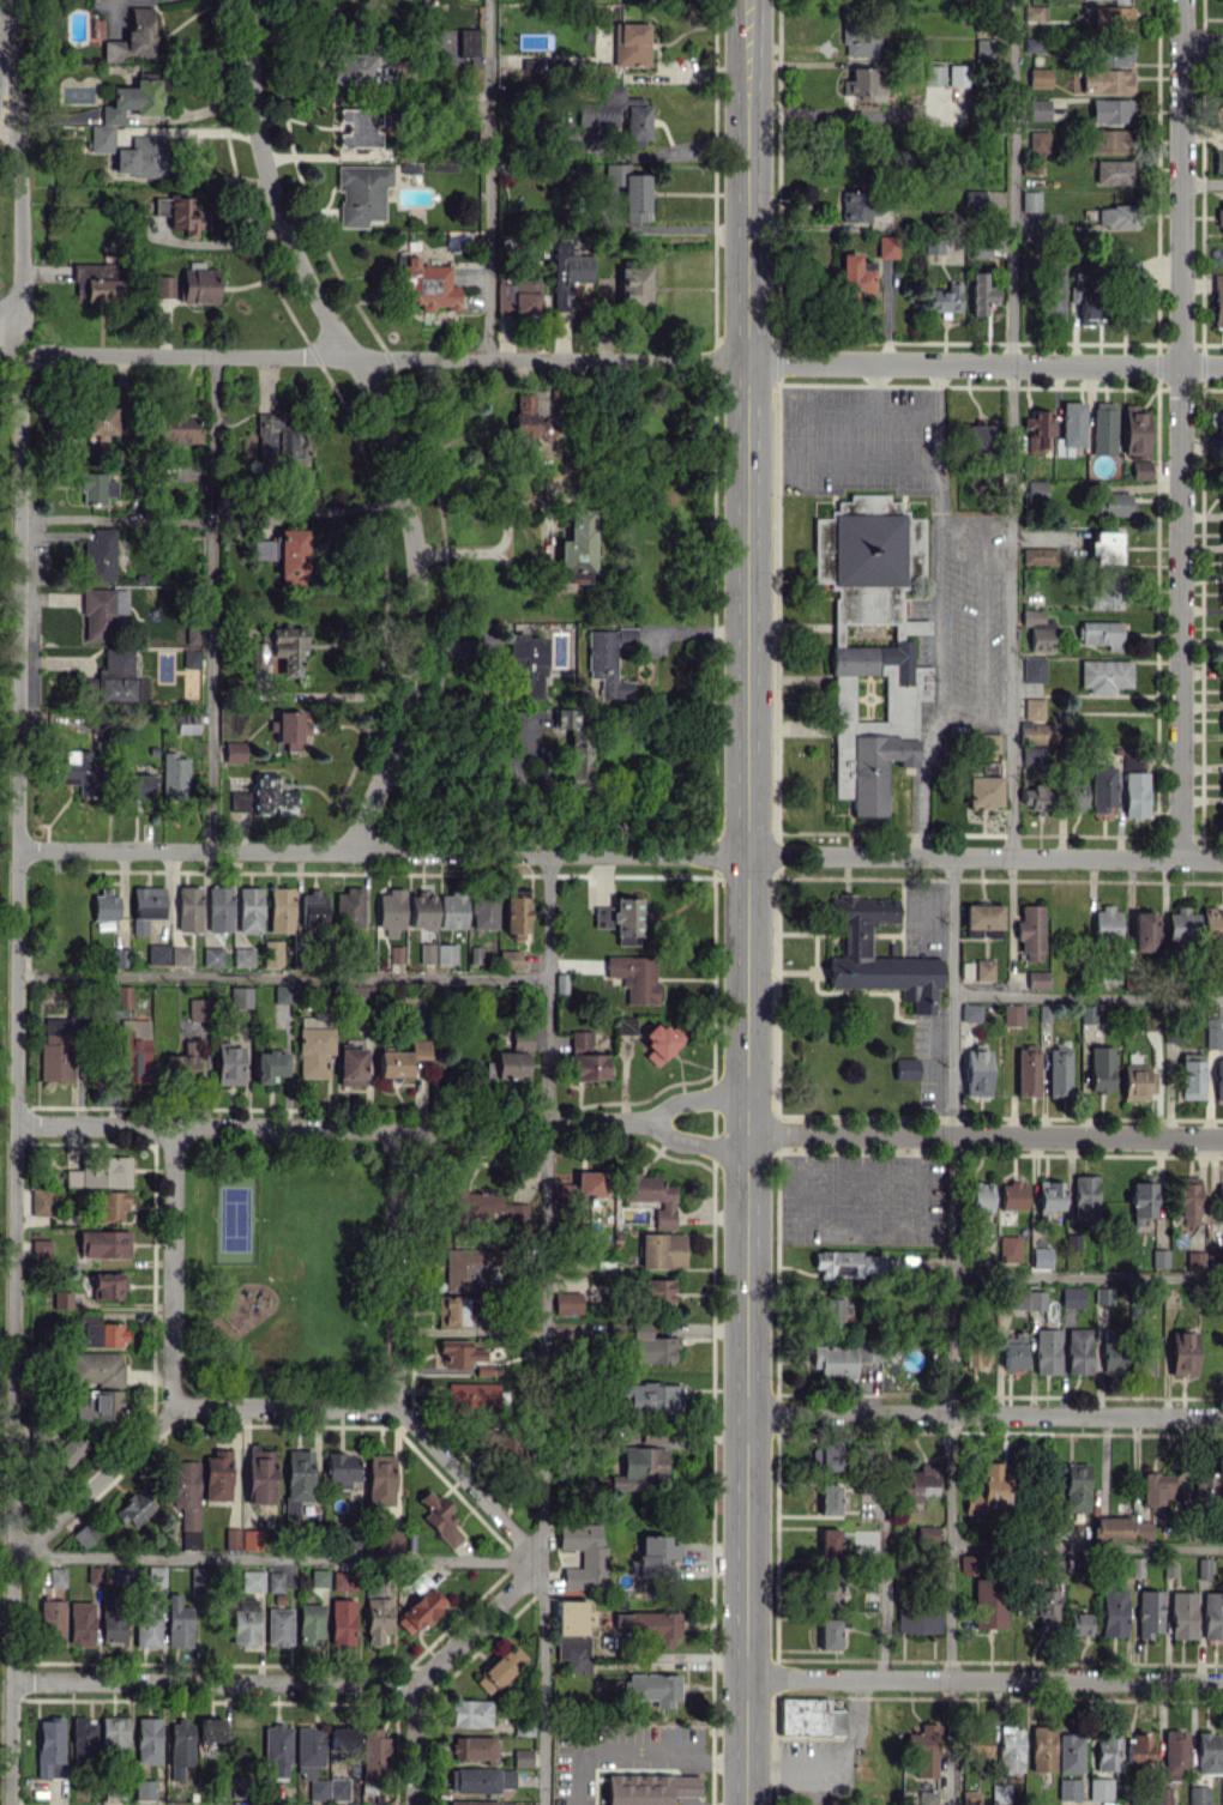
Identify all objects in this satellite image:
building: (1219, 0)
building: (1119, 1)
building: (1035, 12)
building: (1111, 17)
building: (131, 37)
building: (860, 37)
building: (531, 41)
building: (468, 42)
road: (1203, 42)
road: (4, 44)
building: (631, 44)
building: (1035, 44)
building: (984, 48)
building: (1115, 53)
building: (354, 68)
building: (934, 74)
building: (958, 74)
building: (1038, 77)
building: (1105, 80)
building: (862, 85)
road: (1, 92)
building: (1034, 108)
building: (1110, 109)
building: (110, 115)
building: (635, 121)
building: (359, 127)
building: (1038, 140)
building: (1109, 140)
building: (141, 156)
building: (1218, 161)
building: (1113, 171)
road: (488, 180)
road: (1203, 182)
building: (361, 193)
building: (634, 197)
building: (984, 198)
building: (1030, 200)
road: (17, 205)
building: (855, 205)
building: (179, 213)
building: (1110, 216)
building: (1219, 216)
road: (681, 225)
road: (211, 241)
building: (934, 245)
building: (887, 246)
building: (981, 248)
building: (567, 272)
building: (855, 273)
building: (97, 280)
building: (428, 284)
building: (163, 285)
building: (199, 285)
building: (633, 285)
building: (981, 294)
building: (517, 296)
building: (945, 297)
building: (1052, 297)
building: (1218, 300)
building: (1085, 304)
building: (1137, 304)
road: (386, 358)
road: (984, 363)
building: (524, 413)
road: (838, 415)
road: (908, 415)
road: (381, 418)
building: (100, 419)
building: (1216, 421)
building: (179, 425)
road: (1012, 428)
building: (1071, 428)
building: (1103, 428)
road: (1180, 428)
building: (1038, 429)
building: (1134, 431)
building: (978, 437)
building: (1213, 446)
road: (842, 460)
building: (1140, 469)
building: (95, 485)
building: (1036, 489)
building: (1222, 501)
building: (1114, 503)
road: (337, 507)
road: (957, 517)
road: (995, 518)
road: (115, 521)
building: (1222, 532)
building: (1104, 545)
building: (576, 547)
building: (284, 554)
building: (100, 555)
building: (1040, 556)
building: (1222, 563)
building: (1105, 590)
building: (1222, 594)
road: (210, 602)
road: (18, 603)
road: (934, 610)
building: (98, 614)
road: (980, 621)
building: (1037, 623)
building: (192, 633)
building: (1100, 633)
building: (870, 641)
building: (288, 647)
building: (191, 657)
building: (118, 660)
building: (608, 660)
building: (529, 666)
building: (1034, 669)
building: (1104, 675)
building: (108, 687)
building: (1222, 690)
building: (1034, 708)
building: (1222, 722)
building: (187, 723)
road: (959, 726)
building: (288, 729)
building: (1037, 732)
building: (988, 742)
building: (234, 750)
building: (577, 753)
building: (989, 768)
building: (79, 772)
building: (174, 775)
building: (138, 784)
building: (1222, 784)
building: (1102, 789)
building: (982, 790)
building: (1135, 793)
building: (1076, 795)
building: (269, 796)
building: (1037, 797)
building: (240, 801)
road: (620, 852)
road: (748, 902)
building: (104, 904)
building: (145, 906)
building: (313, 907)
building: (349, 907)
building: (188, 908)
building: (219, 908)
building: (249, 908)
building: (281, 908)
building: (452, 908)
building: (421, 910)
road: (17, 911)
building: (483, 912)
building: (514, 914)
road: (1008, 916)
building: (620, 919)
building: (982, 919)
building: (1211, 919)
building: (1105, 922)
building: (1181, 924)
building: (1143, 930)
building: (1030, 931)
building: (854, 940)
building: (272, 953)
building: (426, 953)
building: (446, 953)
building: (157, 954)
building: (181, 955)
building: (212, 956)
building: (242, 956)
building: (510, 959)
building: (968, 968)
building: (983, 970)
road: (283, 976)
building: (634, 976)
building: (1037, 979)
building: (284, 992)
building: (122, 996)
building: (240, 996)
road: (1088, 996)
building: (198, 1008)
building: (970, 1012)
building: (1042, 1012)
building: (1088, 1013)
building: (1012, 1014)
building: (1151, 1020)
building: (625, 1025)
building: (1212, 1032)
building: (520, 1039)
building: (580, 1039)
building: (658, 1042)
building: (314, 1045)
road: (17, 1049)
building: (55, 1049)
building: (134, 1050)
building: (402, 1058)
building: (183, 1060)
building: (228, 1062)
building: (507, 1064)
building: (269, 1066)
building: (351, 1066)
building: (589, 1066)
building: (905, 1068)
building: (1101, 1068)
building: (1026, 1070)
building: (1058, 1070)
building: (976, 1073)
building: (1191, 1075)
building: (1218, 1079)
building: (1137, 1080)
road: (699, 1098)
road: (339, 1127)
road: (984, 1135)
road: (699, 1141)
building: (100, 1172)
building: (590, 1183)
building: (651, 1195)
building: (1011, 1195)
building: (1049, 1196)
building: (1085, 1197)
building: (1219, 1199)
building: (1141, 1200)
building: (41, 1201)
building: (980, 1202)
building: (1186, 1202)
building: (112, 1206)
park: (236, 1218)
building: (103, 1243)
building: (41, 1248)
building: (662, 1249)
building: (1008, 1249)
building: (1215, 1255)
building: (1040, 1257)
building: (1159, 1257)
building: (1194, 1260)
building: (847, 1263)
building: (905, 1263)
road: (175, 1264)
park: (283, 1266)
road: (394, 1267)
building: (468, 1267)
road: (1086, 1278)
building: (107, 1286)
building: (655, 1291)
building: (1102, 1294)
building: (1072, 1297)
building: (1024, 1298)
building: (61, 1299)
building: (567, 1302)
building: (831, 1310)
building: (451, 1311)
building: (526, 1326)
road: (546, 1328)
road: (951, 1330)
building: (103, 1334)
road: (16, 1339)
building: (649, 1346)
building: (1078, 1350)
building: (1113, 1350)
building: (1013, 1351)
building: (1046, 1351)
building: (459, 1353)
building: (1182, 1353)
building: (976, 1356)
building: (1145, 1357)
building: (833, 1360)
building: (97, 1369)
building: (482, 1369)
building: (471, 1395)
building: (653, 1396)
building: (98, 1405)
road: (284, 1405)
road: (984, 1413)
building: (67, 1450)
building: (826, 1451)
building: (341, 1467)
building: (641, 1467)
building: (260, 1474)
building: (216, 1475)
building: (380, 1478)
road: (95, 1479)
building: (297, 1479)
road: (469, 1483)
building: (916, 1484)
building: (1076, 1486)
building: (1155, 1487)
building: (1203, 1487)
building: (987, 1489)
building: (185, 1498)
building: (829, 1498)
building: (134, 1508)
building: (439, 1517)
building: (1111, 1528)
building: (1141, 1529)
building: (926, 1534)
building: (231, 1538)
building: (251, 1539)
building: (390, 1540)
building: (830, 1544)
road: (885, 1545)
road: (1086, 1549)
building: (583, 1555)
building: (656, 1556)
road: (279, 1557)
building: (905, 1562)
building: (1135, 1566)
building: (1052, 1568)
building: (1203, 1568)
building: (94, 1574)
building: (121, 1574)
building: (155, 1575)
building: (56, 1576)
building: (198, 1576)
building: (318, 1577)
building: (252, 1580)
building: (343, 1580)
building: (275, 1581)
building: (418, 1582)
building: (827, 1588)
building: (988, 1602)
building: (1046, 1607)
building: (420, 1610)
building: (1111, 1612)
building: (1149, 1612)
building: (1182, 1614)
building: (1212, 1614)
road: (12, 1617)
building: (572, 1617)
building: (918, 1617)
building: (376, 1619)
building: (112, 1620)
building: (146, 1620)
building: (52, 1622)
building: (177, 1622)
building: (245, 1622)
building: (342, 1622)
road: (481, 1622)
building: (80, 1623)
building: (309, 1623)
building: (1078, 1623)
building: (651, 1625)
building: (278, 1626)
building: (829, 1634)
building: (573, 1653)
building: (499, 1668)
road: (984, 1679)
road: (213, 1682)
building: (652, 1688)
building: (470, 1713)
building: (809, 1718)
building: (210, 1728)
building: (114, 1734)
building: (83, 1735)
building: (147, 1739)
building: (342, 1739)
road: (10, 1743)
road: (415, 1744)
building: (49, 1746)
building: (1139, 1746)
building: (180, 1747)
building: (472, 1747)
building: (923, 1749)
building: (977, 1749)
building: (1010, 1749)
building: (1042, 1749)
building: (277, 1750)
road: (634, 1750)
building: (1071, 1752)
building: (1174, 1752)
building: (1206, 1752)
building: (1108, 1753)
building: (372, 1756)
building: (522, 1757)
building: (311, 1758)
road: (835, 1762)
road: (687, 1765)
building: (481, 1779)
building: (240, 1785)
road: (687, 1786)
building: (145, 1788)
building: (337, 1788)
building: (649, 1788)
building: (1068, 1788)
building: (1100, 1788)
building: (1222, 1792)
building: (1000, 1793)
building: (1163, 1795)
building: (1198, 1795)
building: (969, 1797)
road: (688, 1800)
building: (480, 1803)

